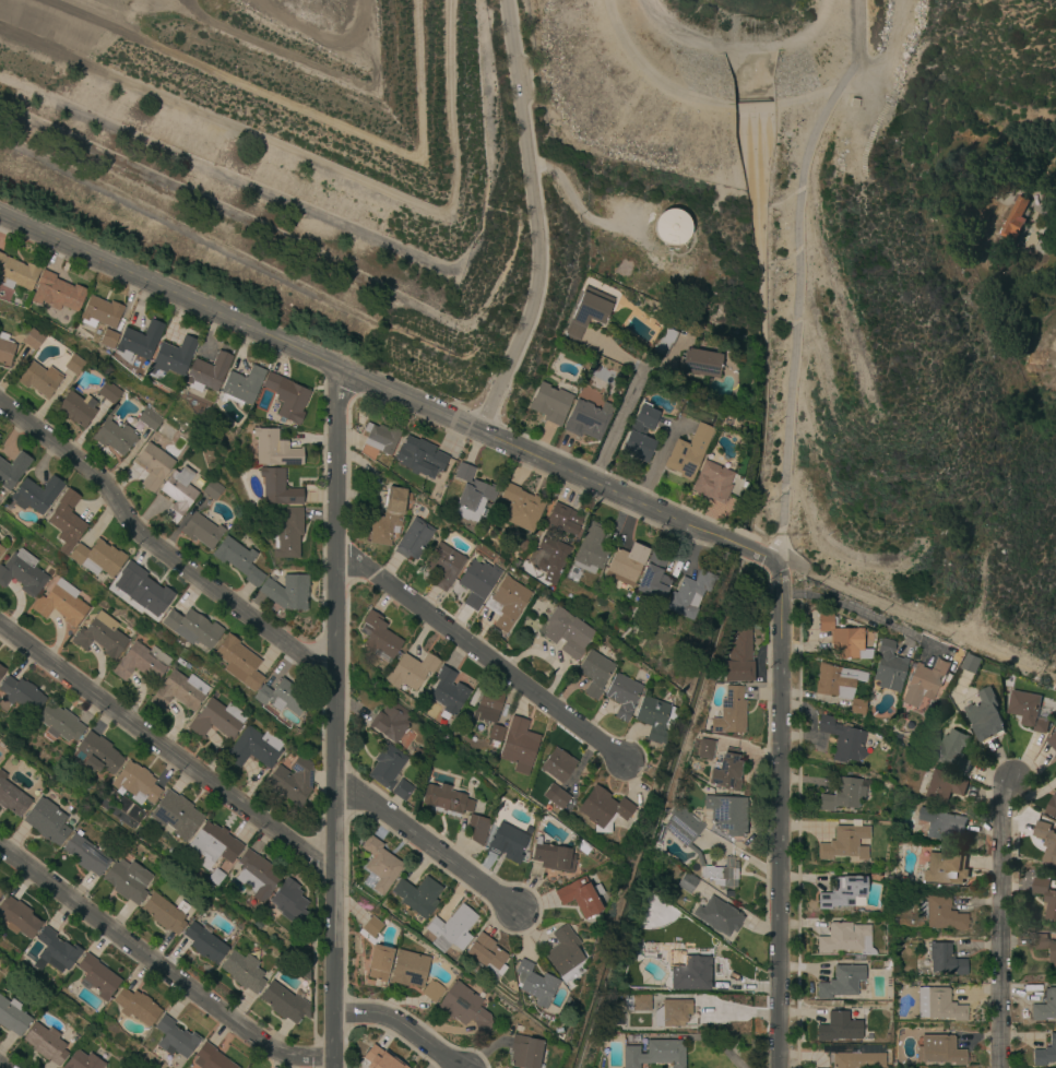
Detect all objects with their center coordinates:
road: (739, 47)
road: (649, 74)
road: (871, 76)
dam: (655, 96)
building: (844, 97)
road: (804, 98)
road: (572, 201)
building: (1015, 218)
road: (534, 219)
building: (672, 227)
storage tank: (672, 227)
building: (16, 273)
building: (57, 293)
road: (796, 302)
building: (99, 312)
building: (586, 312)
building: (33, 339)
building: (108, 339)
building: (139, 341)
building: (665, 341)
building: (5, 349)
building: (173, 356)
building: (700, 363)
building: (74, 364)
building: (206, 372)
building: (38, 379)
building: (240, 387)
building: (108, 392)
road: (383, 392)
building: (286, 396)
building: (550, 403)
road: (627, 404)
building: (76, 410)
building: (112, 410)
building: (206, 411)
building: (149, 419)
building: (585, 422)
building: (180, 431)
building: (640, 434)
building: (115, 437)
building: (379, 443)
building: (274, 449)
building: (688, 451)
building: (419, 456)
building: (153, 463)
building: (12, 471)
building: (712, 482)
building: (212, 488)
building: (277, 488)
building: (178, 491)
building: (33, 495)
building: (471, 495)
building: (521, 508)
building: (388, 517)
building: (565, 519)
building: (66, 521)
building: (201, 531)
building: (288, 535)
building: (414, 539)
building: (11, 542)
building: (1, 549)
building: (590, 549)
road: (159, 550)
building: (96, 558)
building: (238, 560)
building: (550, 560)
building: (626, 565)
building: (444, 567)
building: (22, 573)
building: (653, 577)
building: (477, 583)
building: (144, 589)
building: (287, 592)
building: (688, 594)
building: (627, 595)
building: (507, 602)
building: (60, 603)
road: (849, 608)
road: (913, 616)
building: (556, 624)
building: (191, 628)
building: (100, 637)
building: (378, 637)
building: (843, 638)
building: (572, 648)
road: (484, 654)
building: (739, 656)
road: (547, 658)
building: (141, 663)
building: (238, 663)
building: (972, 664)
building: (889, 665)
building: (1, 671)
building: (411, 671)
building: (594, 673)
building: (926, 679)
building: (841, 686)
building: (178, 691)
building: (21, 695)
building: (448, 696)
building: (622, 696)
building: (282, 698)
building: (488, 704)
building: (1028, 711)
building: (731, 712)
building: (985, 716)
building: (655, 719)
building: (217, 720)
road: (337, 721)
building: (390, 722)
building: (59, 723)
building: (495, 733)
building: (844, 739)
building: (1052, 740)
road: (169, 745)
building: (494, 745)
building: (518, 746)
building: (253, 748)
building: (705, 749)
building: (953, 751)
building: (97, 755)
building: (557, 764)
building: (387, 766)
building: (726, 771)
building: (292, 781)
building: (135, 783)
building: (473, 783)
building: (940, 785)
building: (402, 791)
building: (842, 795)
building: (12, 797)
building: (559, 798)
building: (447, 799)
building: (1052, 806)
building: (603, 810)
road: (778, 812)
building: (176, 815)
building: (723, 816)
building: (46, 821)
building: (941, 824)
building: (683, 829)
building: (477, 830)
building: (527, 830)
building: (507, 841)
building: (1046, 841)
building: (844, 842)
building: (214, 843)
road: (427, 846)
building: (583, 847)
building: (86, 854)
building: (553, 856)
building: (380, 864)
building: (944, 867)
building: (722, 874)
building: (256, 875)
building: (213, 879)
building: (128, 881)
building: (687, 883)
building: (0, 890)
building: (0, 892)
building: (1046, 892)
building: (843, 893)
building: (581, 895)
building: (418, 897)
building: (288, 901)
building: (165, 913)
building: (941, 914)
building: (717, 916)
building: (17, 918)
building: (371, 926)
road: (1004, 926)
building: (451, 927)
building: (845, 939)
building: (204, 942)
building: (1045, 948)
building: (55, 951)
building: (565, 951)
building: (486, 954)
building: (857, 958)
building: (945, 961)
building: (379, 962)
building: (410, 969)
road: (163, 971)
building: (242, 972)
building: (301, 972)
building: (690, 974)
building: (96, 976)
building: (841, 982)
building: (534, 984)
building: (431, 992)
building: (283, 1002)
building: (636, 1002)
building: (135, 1006)
building: (938, 1006)
building: (1045, 1006)
building: (464, 1007)
building: (673, 1014)
building: (12, 1017)
building: (640, 1021)
building: (838, 1028)
road: (402, 1029)
building: (175, 1037)
road: (720, 1043)
building: (46, 1044)
building: (939, 1051)
building: (524, 1052)
building: (1045, 1053)
building: (654, 1055)
building: (210, 1058)
building: (378, 1059)
building: (861, 1059)
building: (83, 1061)
road: (0, 1067)

